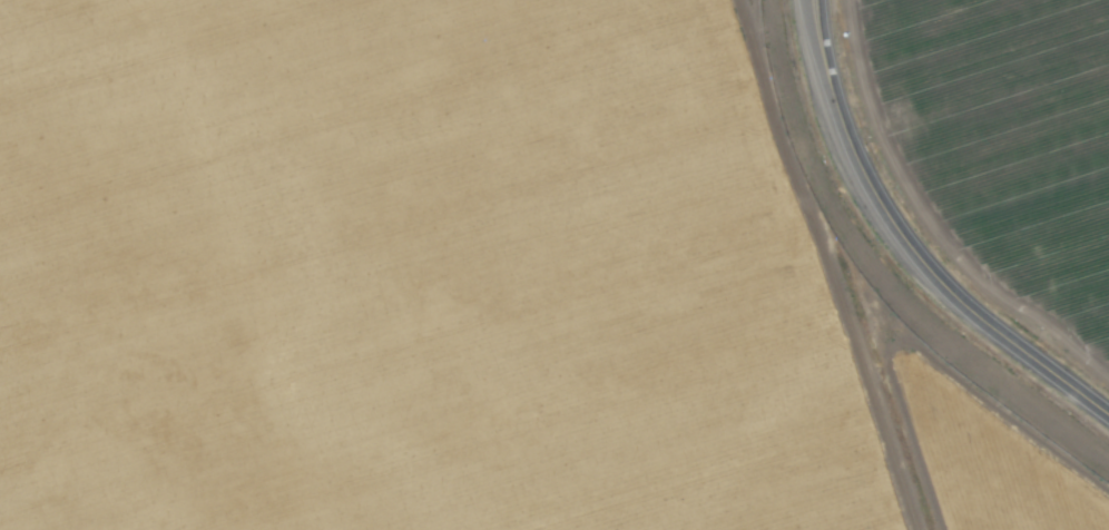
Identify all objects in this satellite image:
road: (909, 243)
crop: (554, 265)

